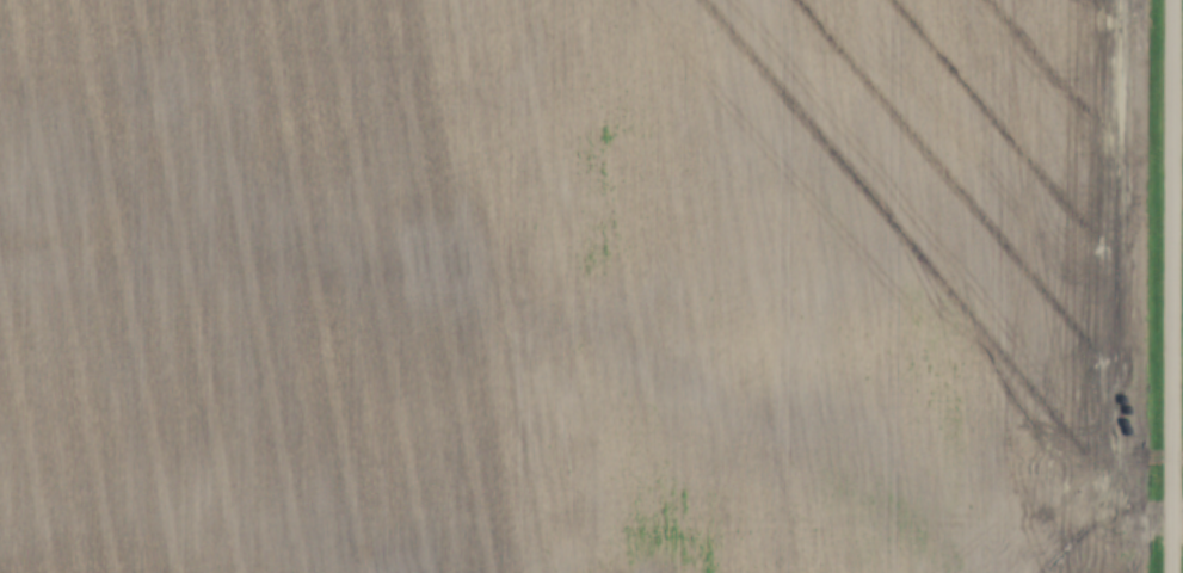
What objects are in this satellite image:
road: (1175, 286)

